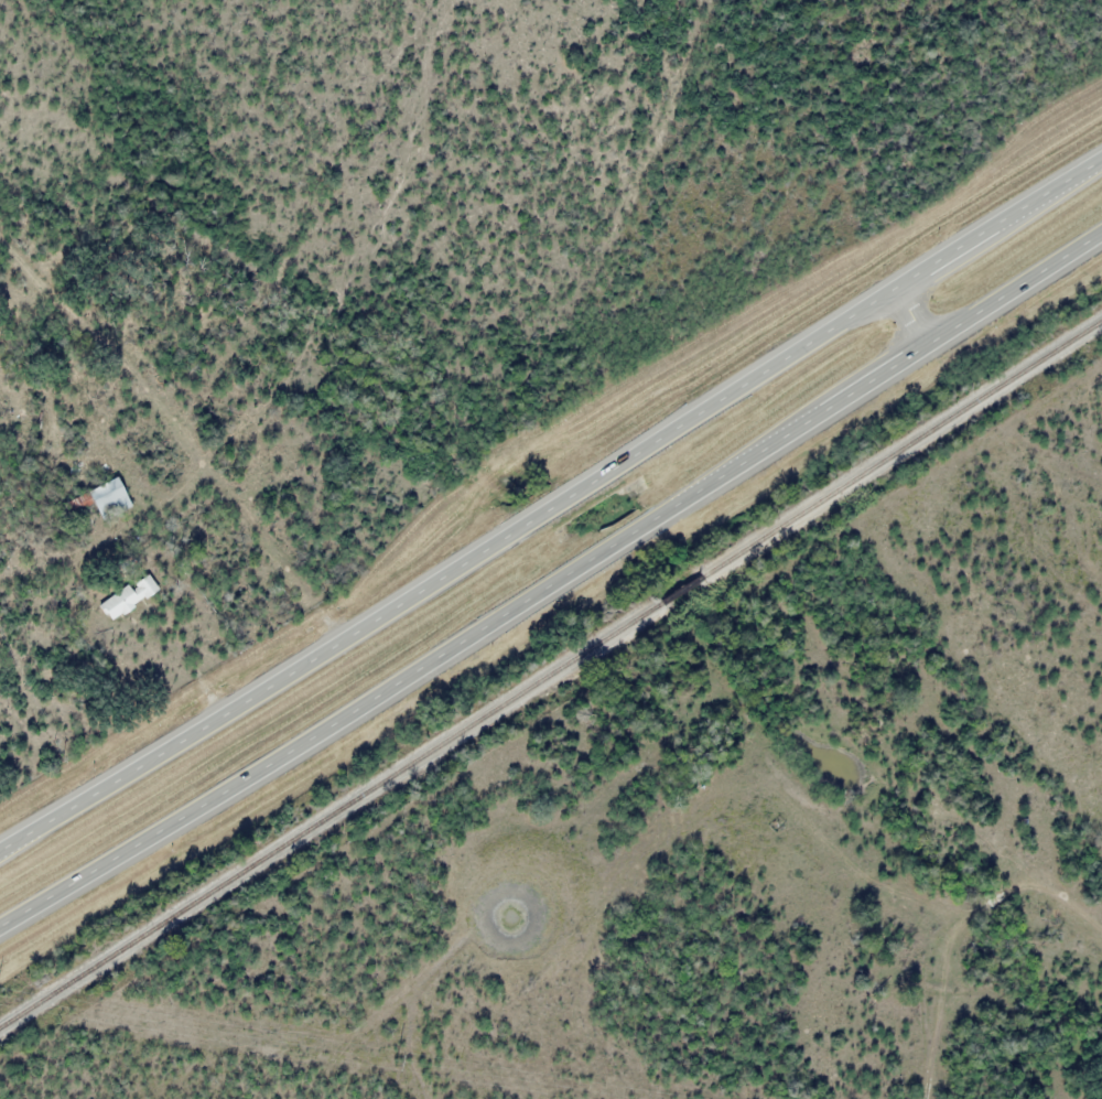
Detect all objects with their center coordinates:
road: (908, 311)
building: (107, 498)
road: (545, 509)
road: (557, 585)
building: (127, 596)
railway: (550, 678)
power tower: (395, 1060)

